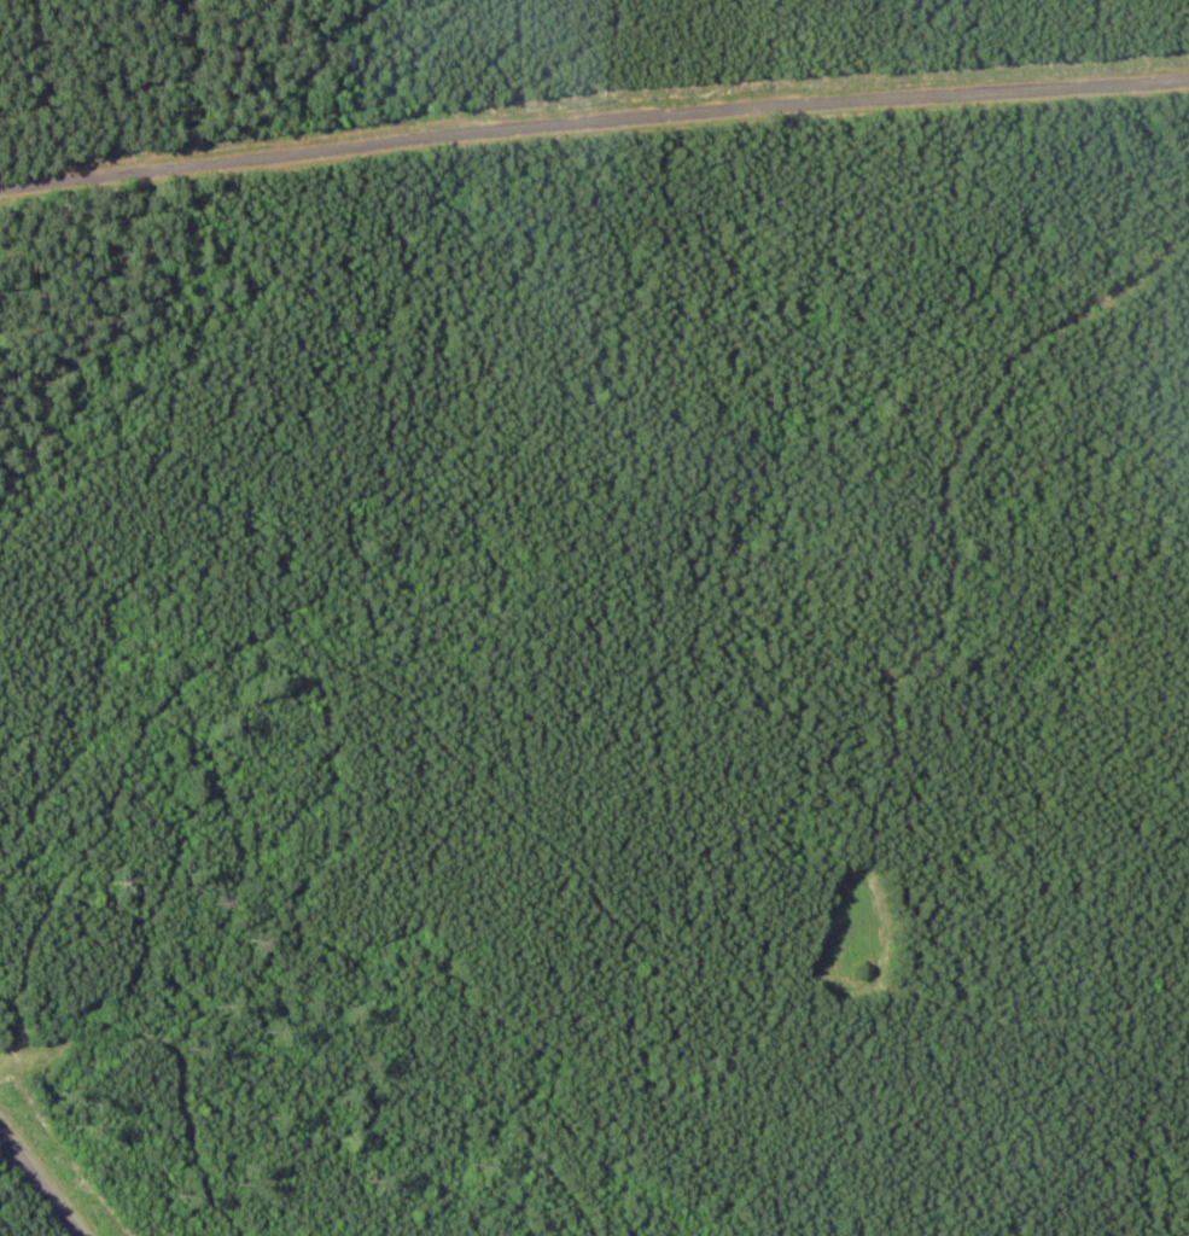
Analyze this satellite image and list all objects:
road: (593, 176)
road: (25, 1200)

